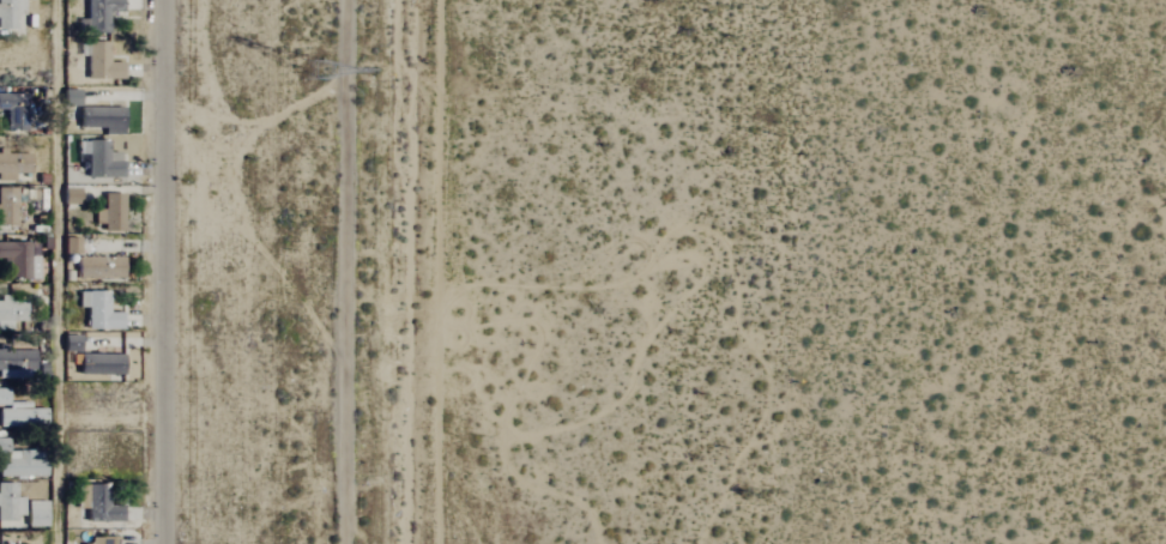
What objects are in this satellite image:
building: (8, 13)
building: (96, 14)
building: (99, 62)
power tower: (304, 71)
building: (12, 111)
building: (101, 120)
building: (98, 159)
building: (12, 165)
building: (6, 206)
building: (108, 213)
building: (70, 246)
building: (17, 261)
building: (97, 267)
road: (56, 272)
road: (164, 272)
road: (343, 272)
building: (97, 310)
building: (11, 312)
building: (14, 362)
building: (98, 364)
building: (18, 413)
building: (1, 446)
building: (20, 466)
building: (10, 503)
building: (96, 504)
building: (36, 514)
building: (81, 537)
building: (97, 542)

